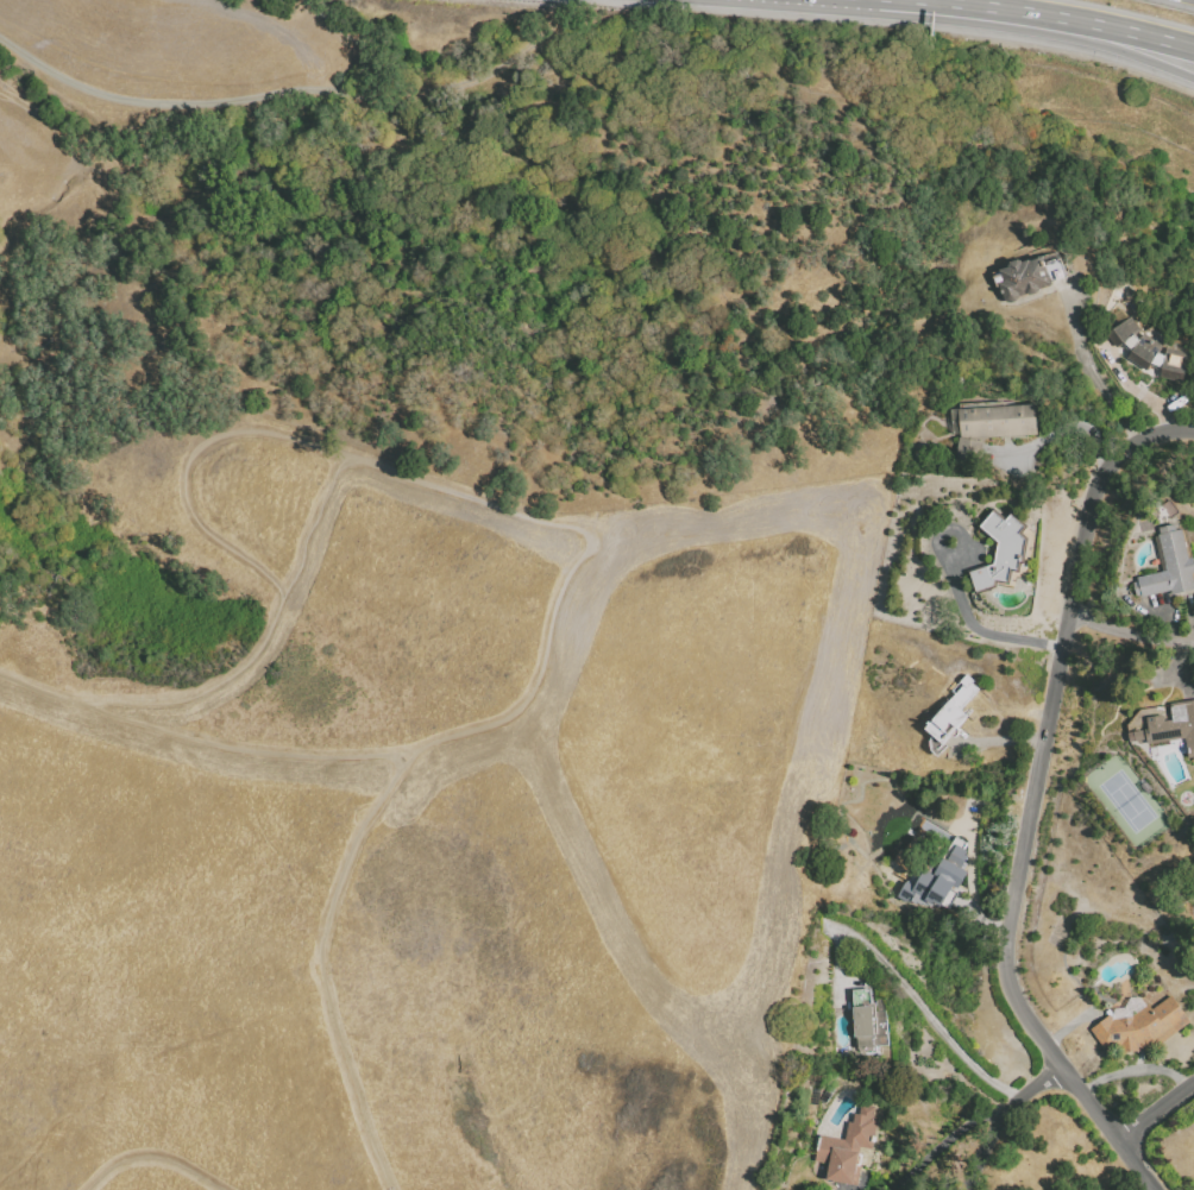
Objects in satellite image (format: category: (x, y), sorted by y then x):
road: (929, 0)
road: (1066, 18)
road: (1067, 33)
road: (269, 96)
building: (1029, 281)
building: (1146, 351)
road: (1089, 374)
building: (991, 427)
road: (461, 491)
road: (318, 517)
building: (1001, 554)
building: (1165, 567)
road: (960, 602)
road: (1131, 630)
road: (238, 670)
building: (954, 713)
building: (1171, 724)
road: (1041, 767)
road: (400, 768)
building: (973, 805)
building: (868, 816)
building: (955, 849)
building: (940, 889)
building: (865, 1020)
building: (1138, 1025)
road: (938, 1027)
road: (1157, 1113)
road: (999, 1117)
road: (940, 1145)
building: (849, 1151)
road: (150, 1154)
road: (1138, 1165)

